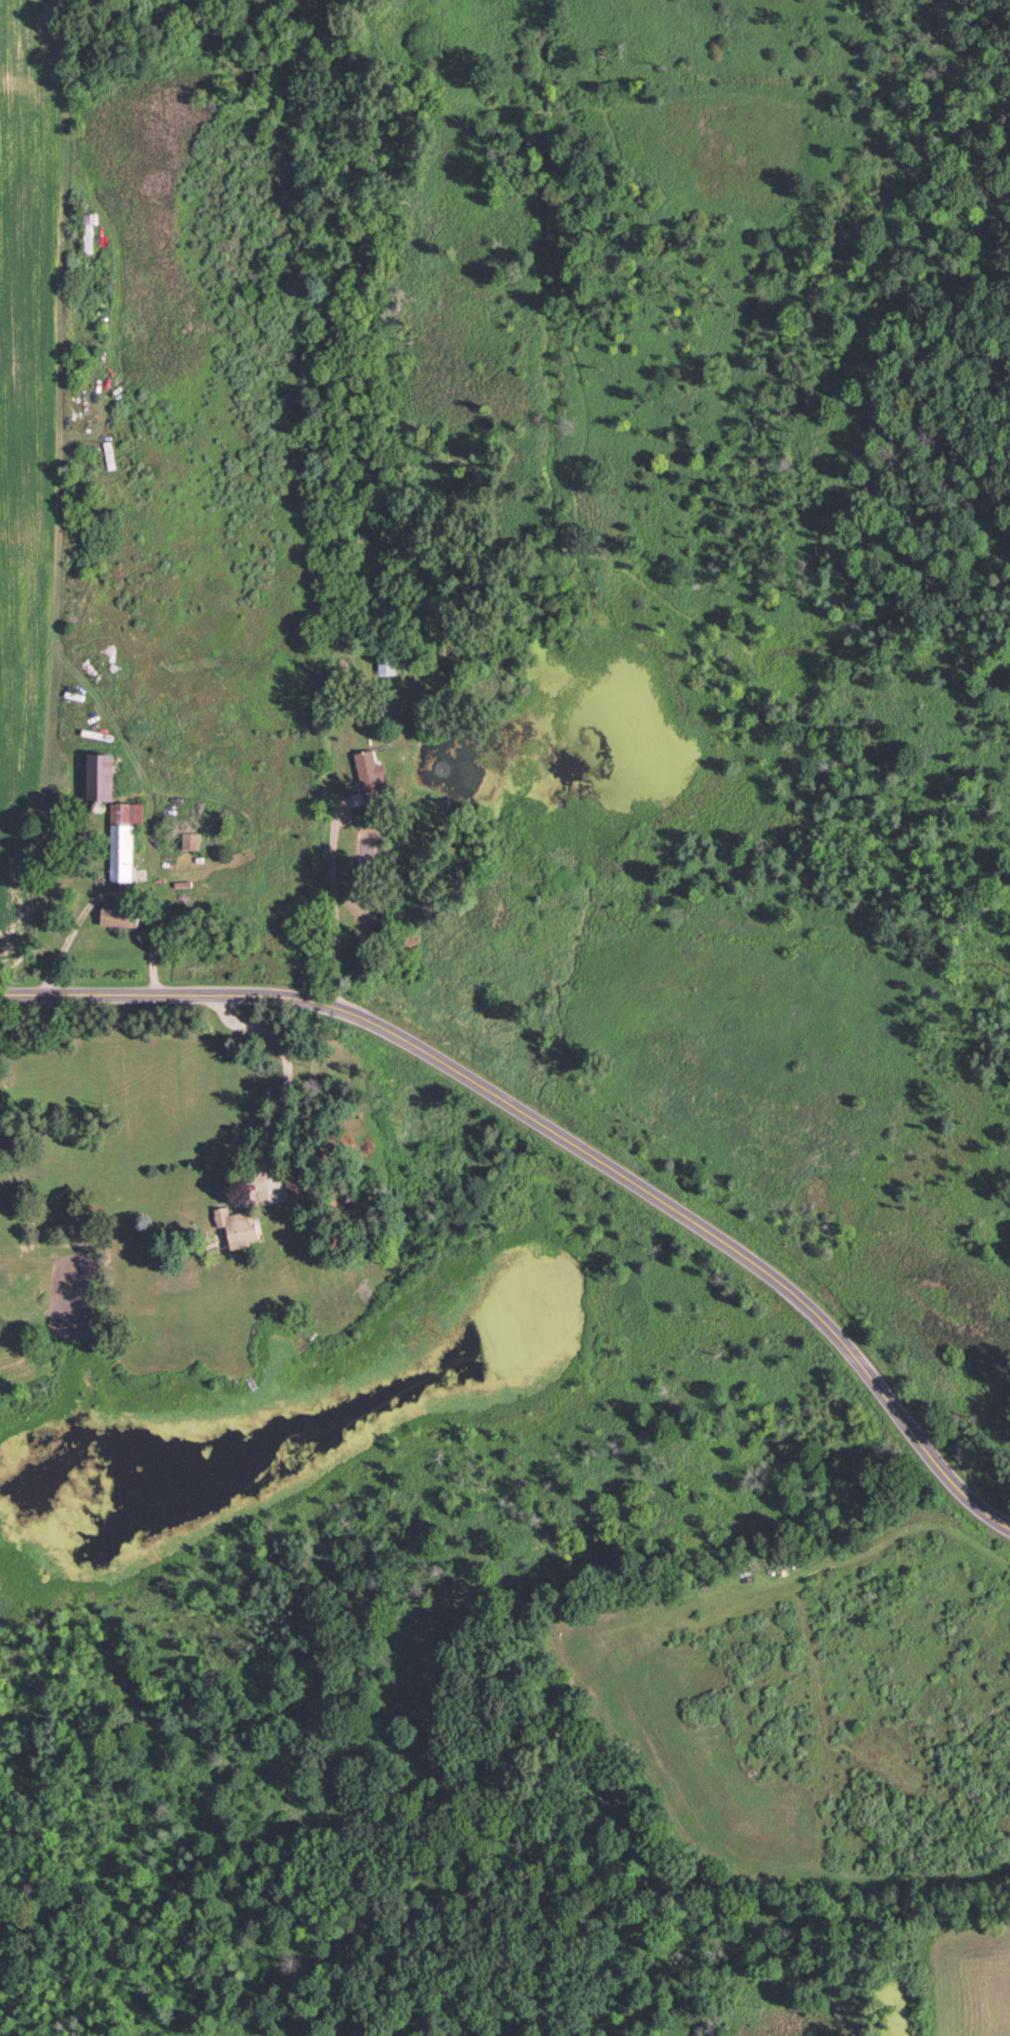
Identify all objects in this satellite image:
building: (87, 235)
crop: (18, 487)
building: (99, 780)
building: (369, 782)
building: (122, 841)
building: (191, 844)
road: (115, 892)
road: (349, 907)
building: (119, 920)
road: (290, 1075)
building: (1, 1128)
road: (562, 1139)
building: (296, 1189)
building: (238, 1228)

